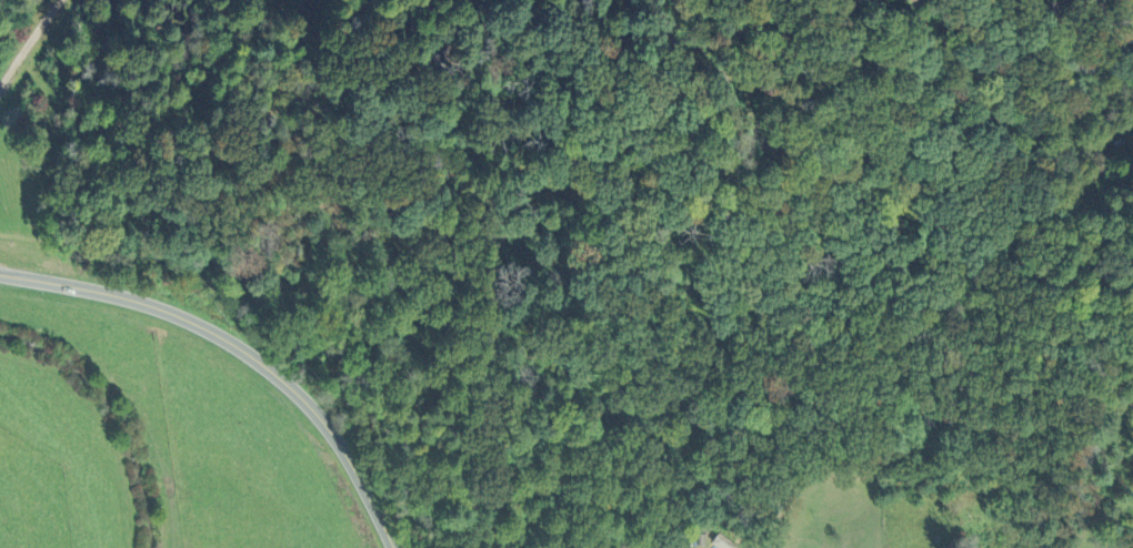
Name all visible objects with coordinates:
building: (856, 0)
road: (1050, 4)
road: (29, 42)
road: (241, 348)
building: (723, 541)

